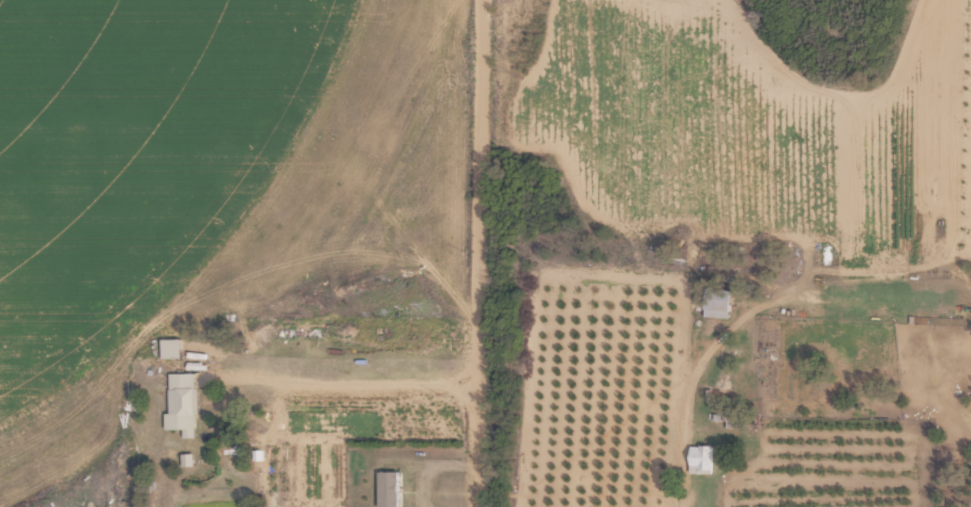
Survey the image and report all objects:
road: (483, 253)
crop: (485, 253)
building: (720, 302)
building: (174, 348)
building: (186, 394)
building: (704, 459)
building: (391, 488)

